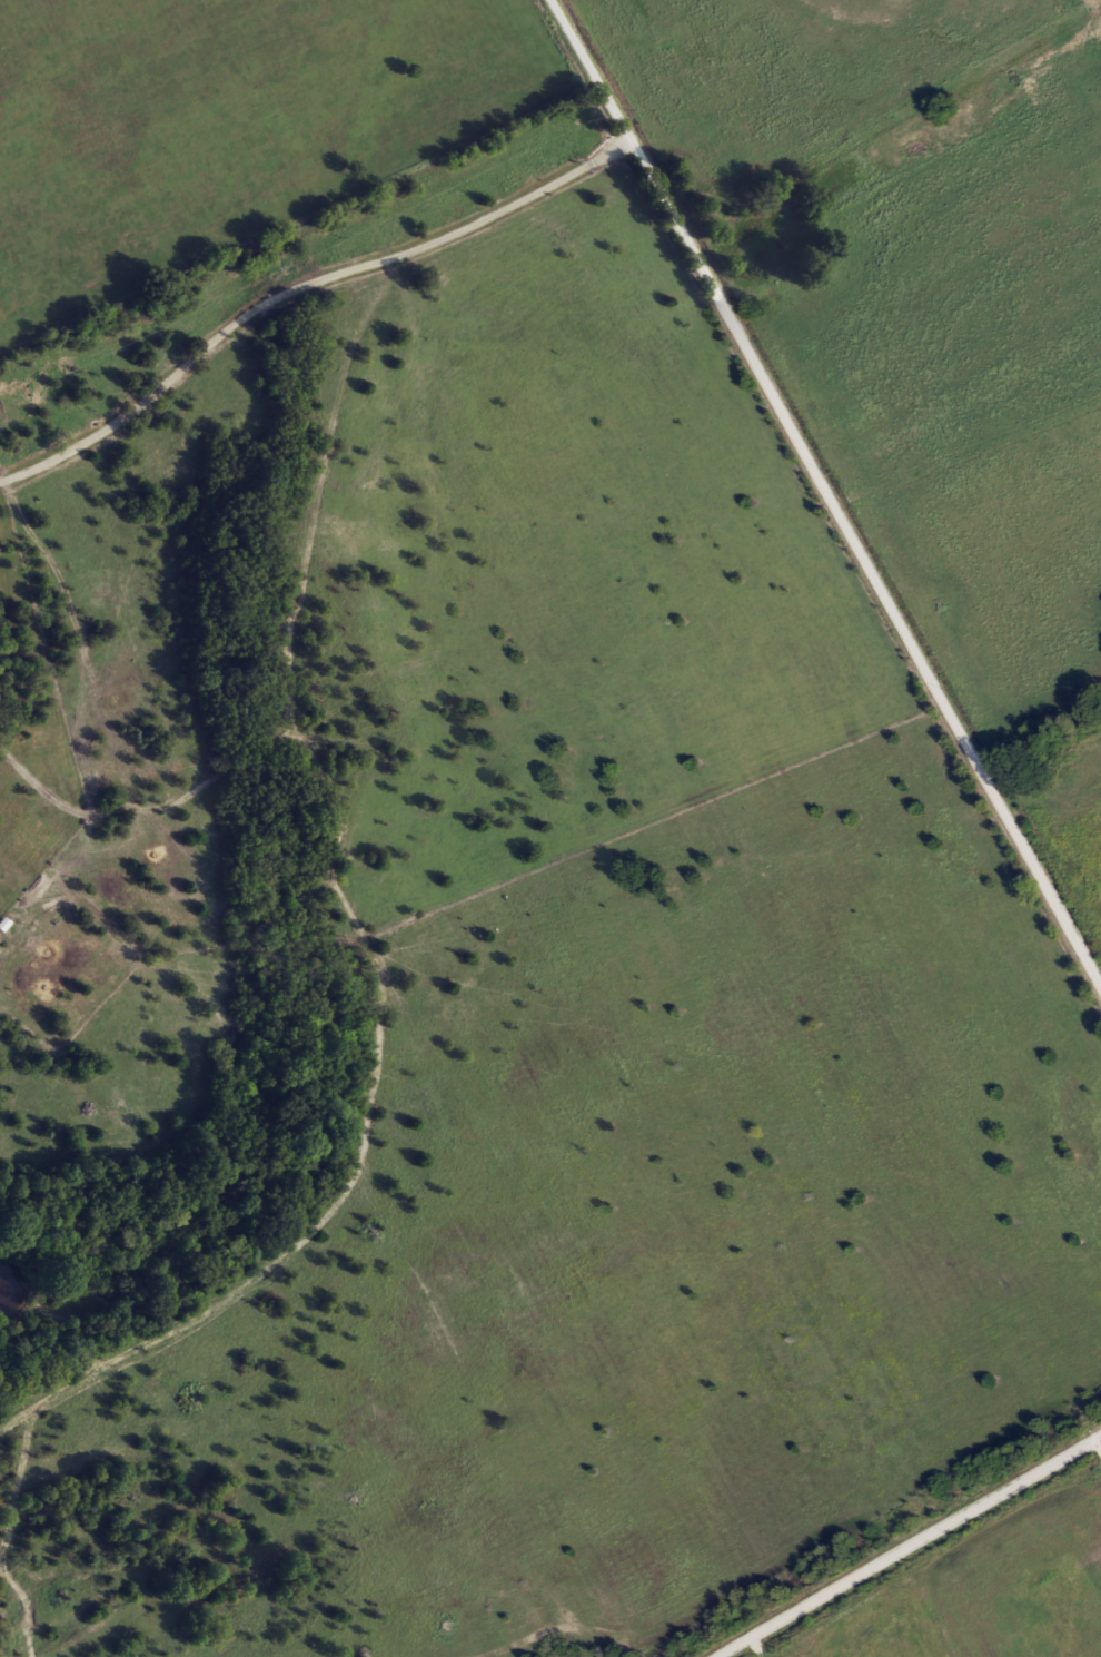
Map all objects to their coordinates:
road: (304, 287)
road: (969, 448)
road: (829, 486)
road: (907, 1545)
road: (930, 1602)

